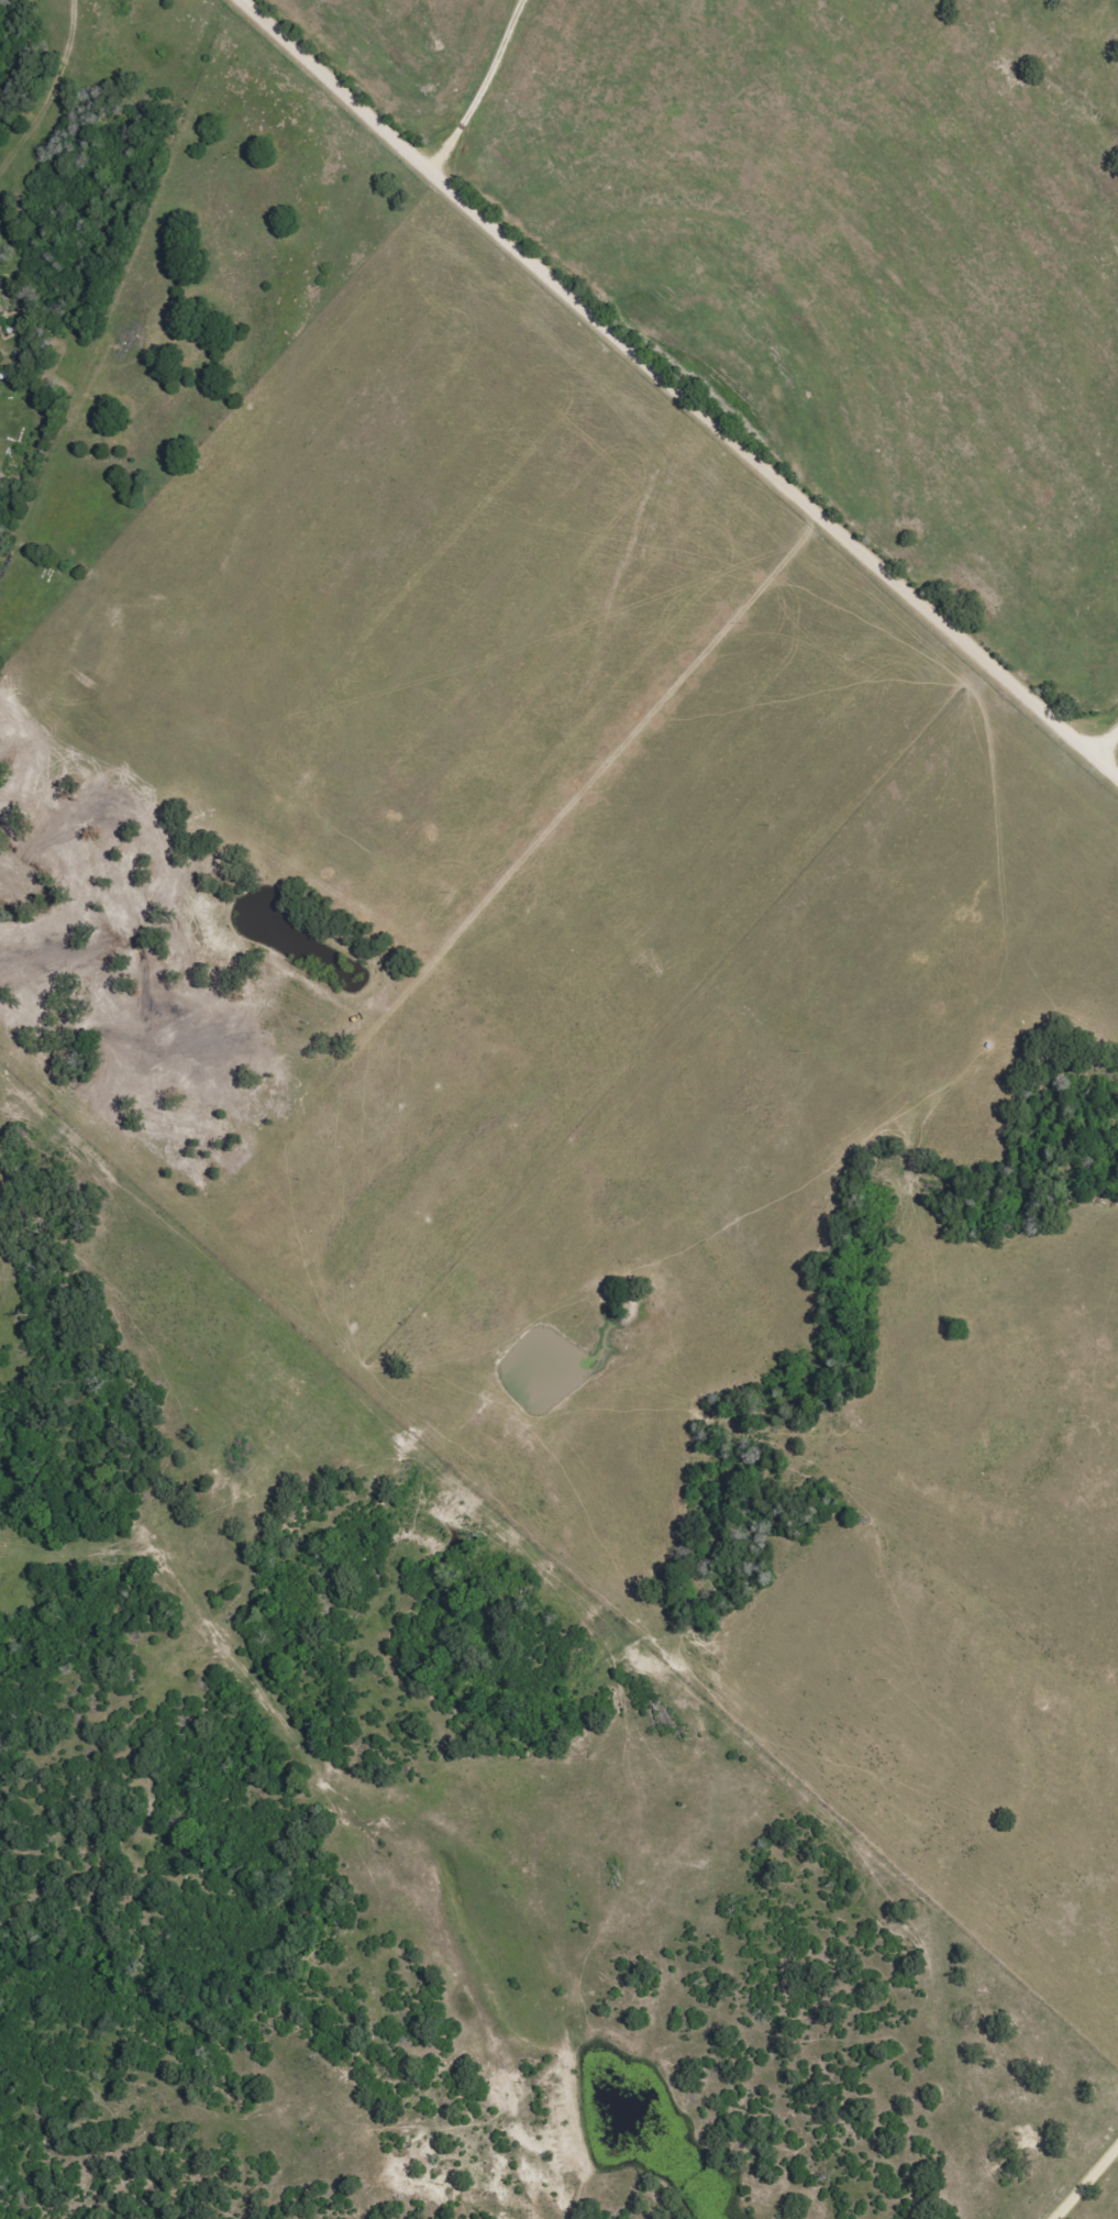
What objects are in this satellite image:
road: (677, 389)
road: (1106, 737)
road: (1080, 2178)

